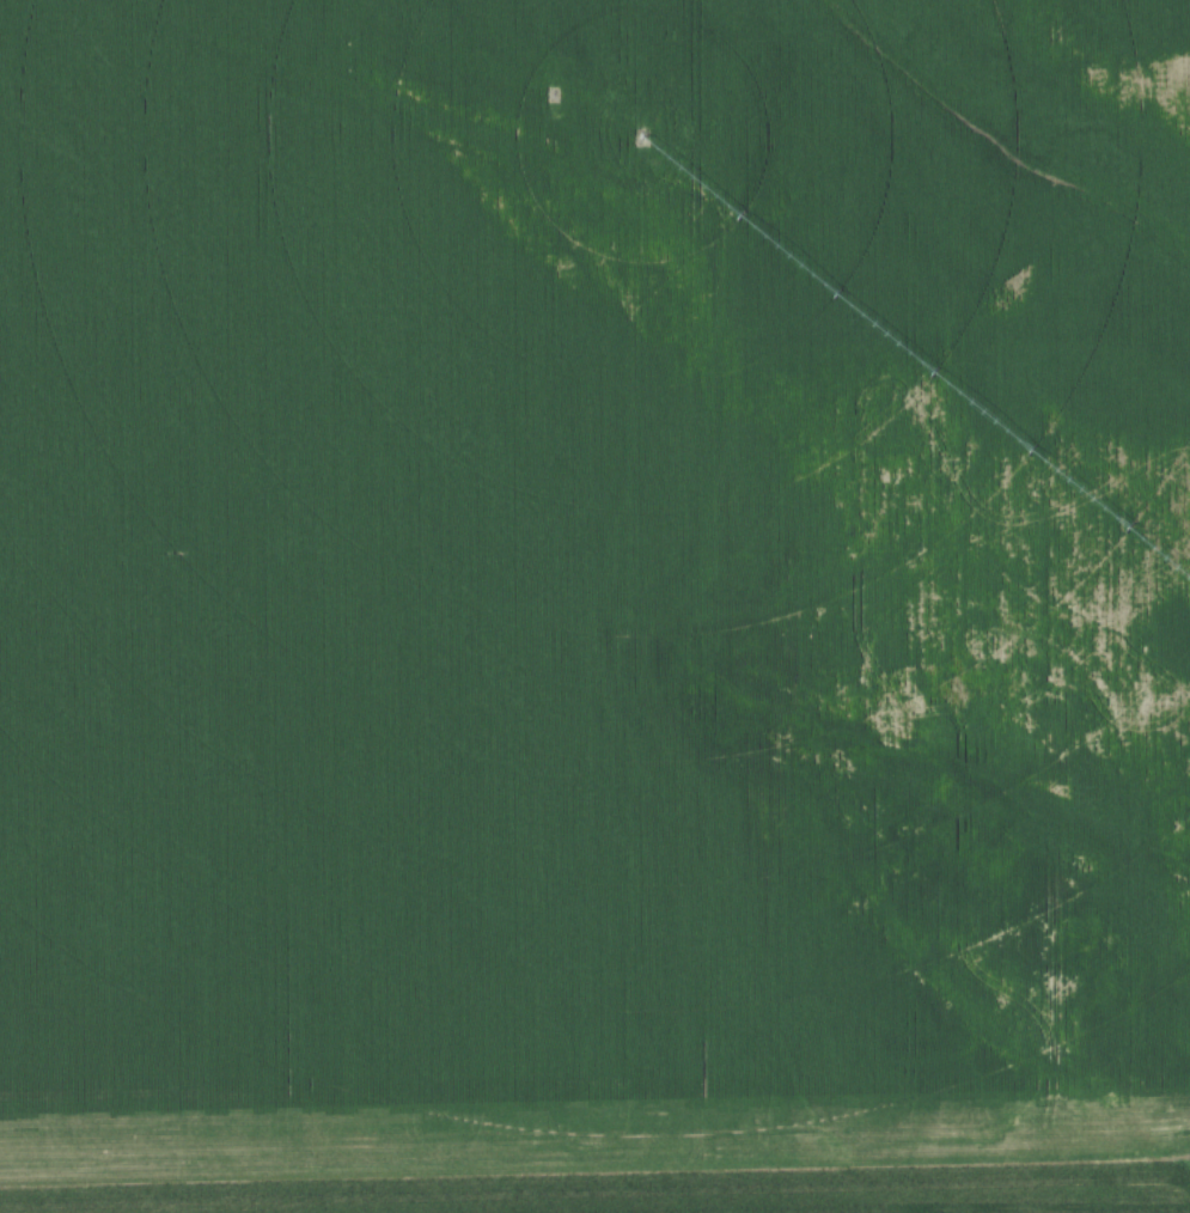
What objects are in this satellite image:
building: (736, 553)
building: (831, 603)

